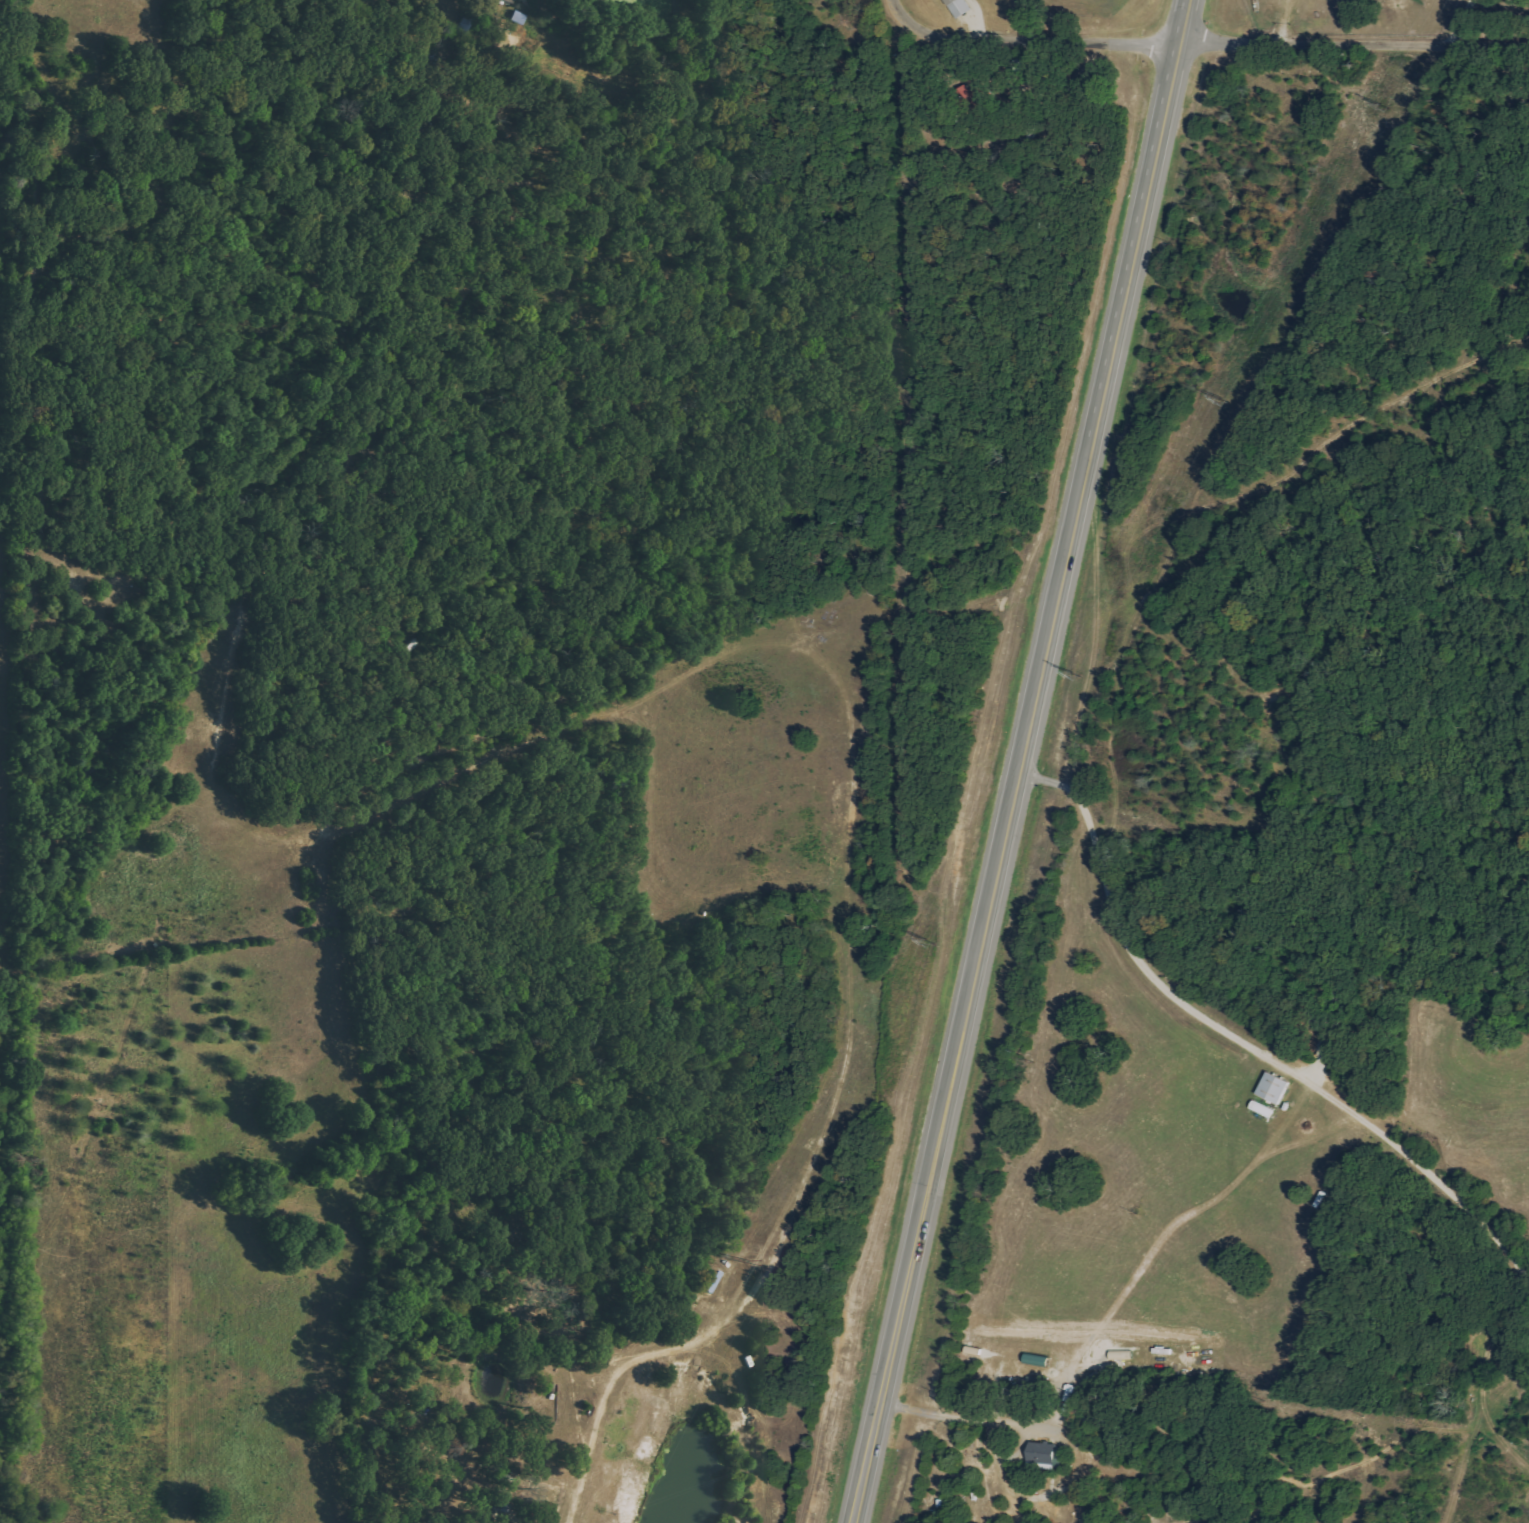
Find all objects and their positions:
building: (509, 1)
building: (959, 7)
road: (1024, 42)
road: (1351, 44)
building: (973, 97)
power tower: (1383, 106)
power tower: (1225, 399)
power tower: (1075, 674)
road: (1021, 761)
power tower: (929, 942)
road: (1243, 1043)
building: (1274, 1088)
building: (1263, 1109)
power tower: (753, 1260)

